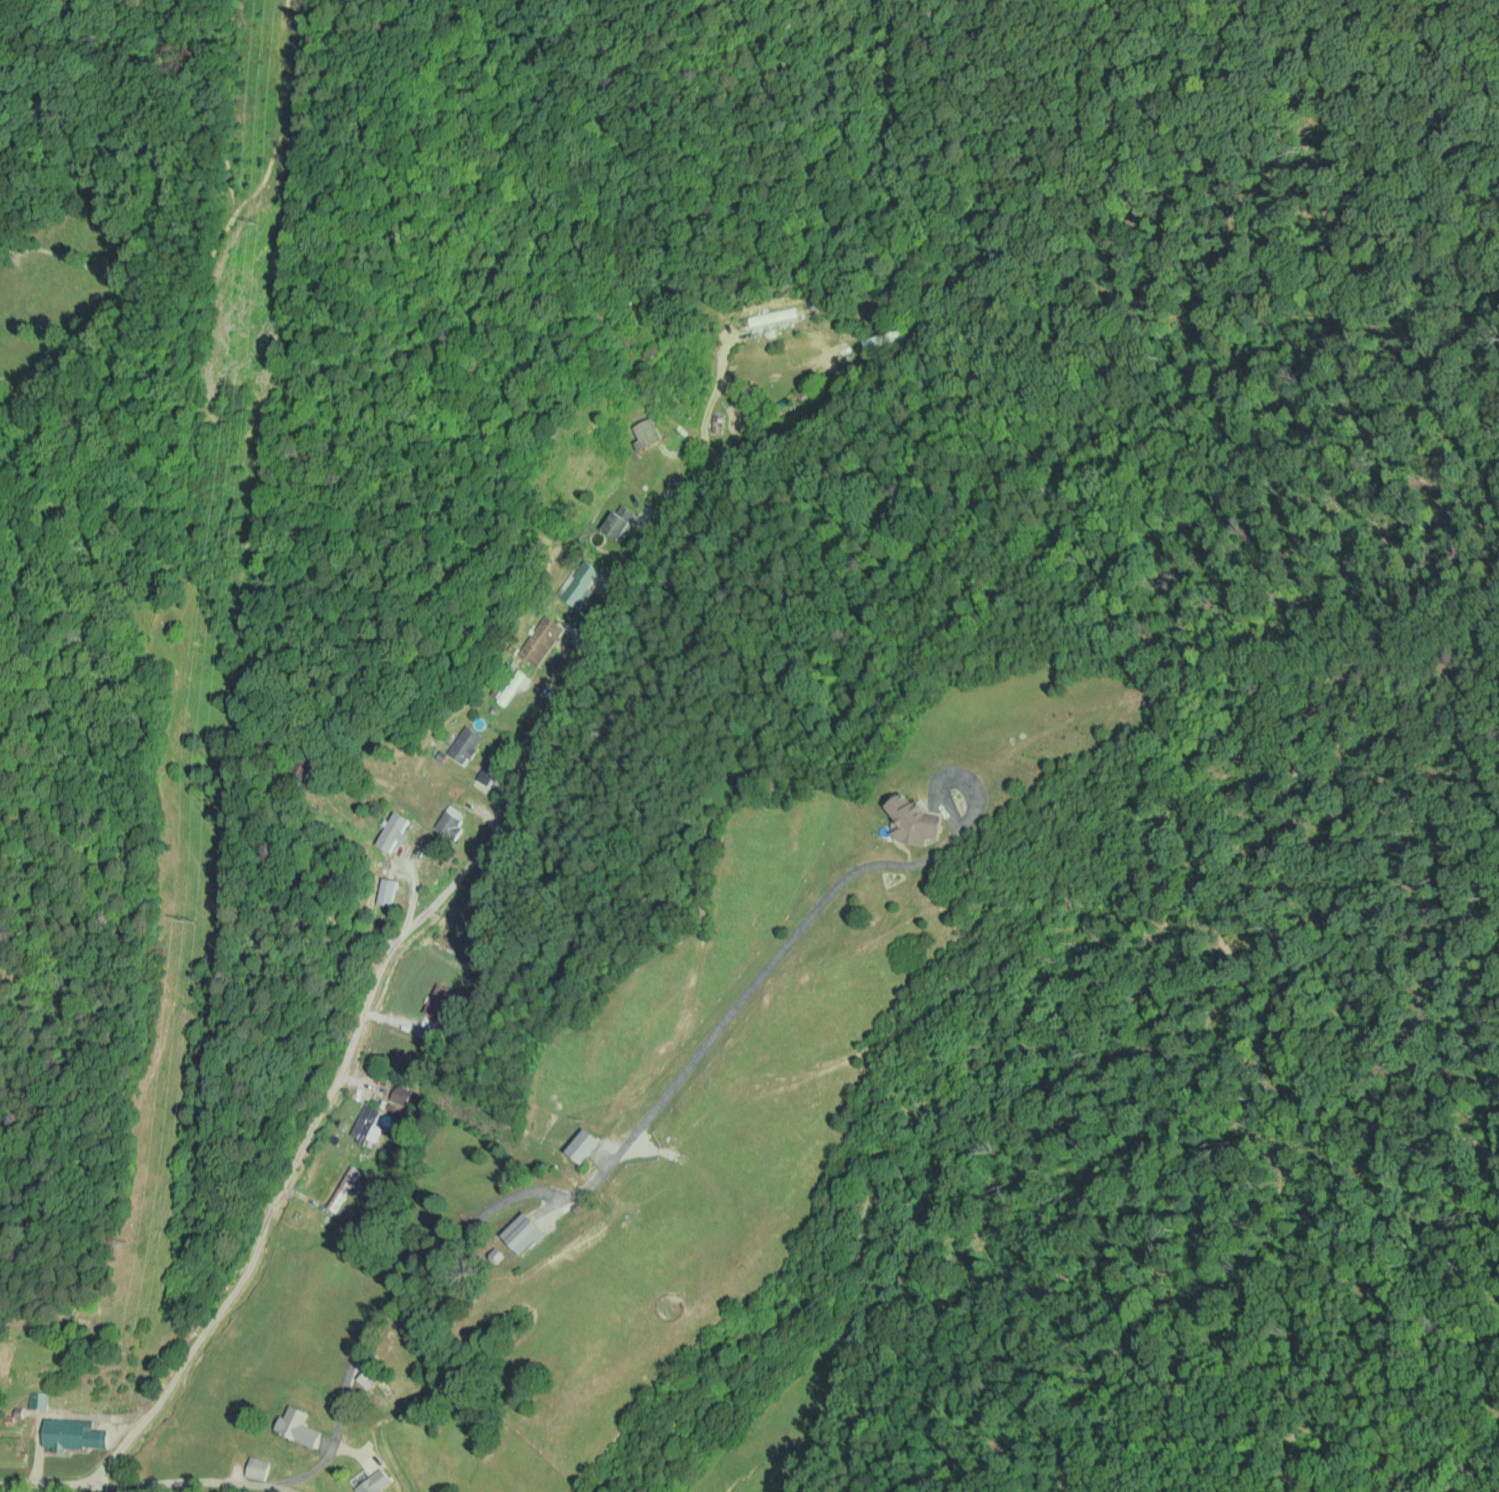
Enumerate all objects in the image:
power tower: (254, 226)
road: (787, 344)
building: (647, 434)
building: (619, 522)
building: (579, 582)
building: (540, 639)
building: (513, 685)
building: (464, 744)
building: (484, 775)
building: (912, 820)
building: (450, 821)
building: (393, 831)
building: (386, 891)
road: (380, 917)
power tower: (187, 920)
building: (439, 1001)
road: (602, 1087)
building: (400, 1094)
building: (366, 1124)
building: (581, 1145)
building: (343, 1188)
building: (522, 1233)
building: (366, 1379)
building: (37, 1399)
building: (296, 1426)
building: (72, 1433)
building: (257, 1467)
building: (373, 1482)
road: (75, 1491)

